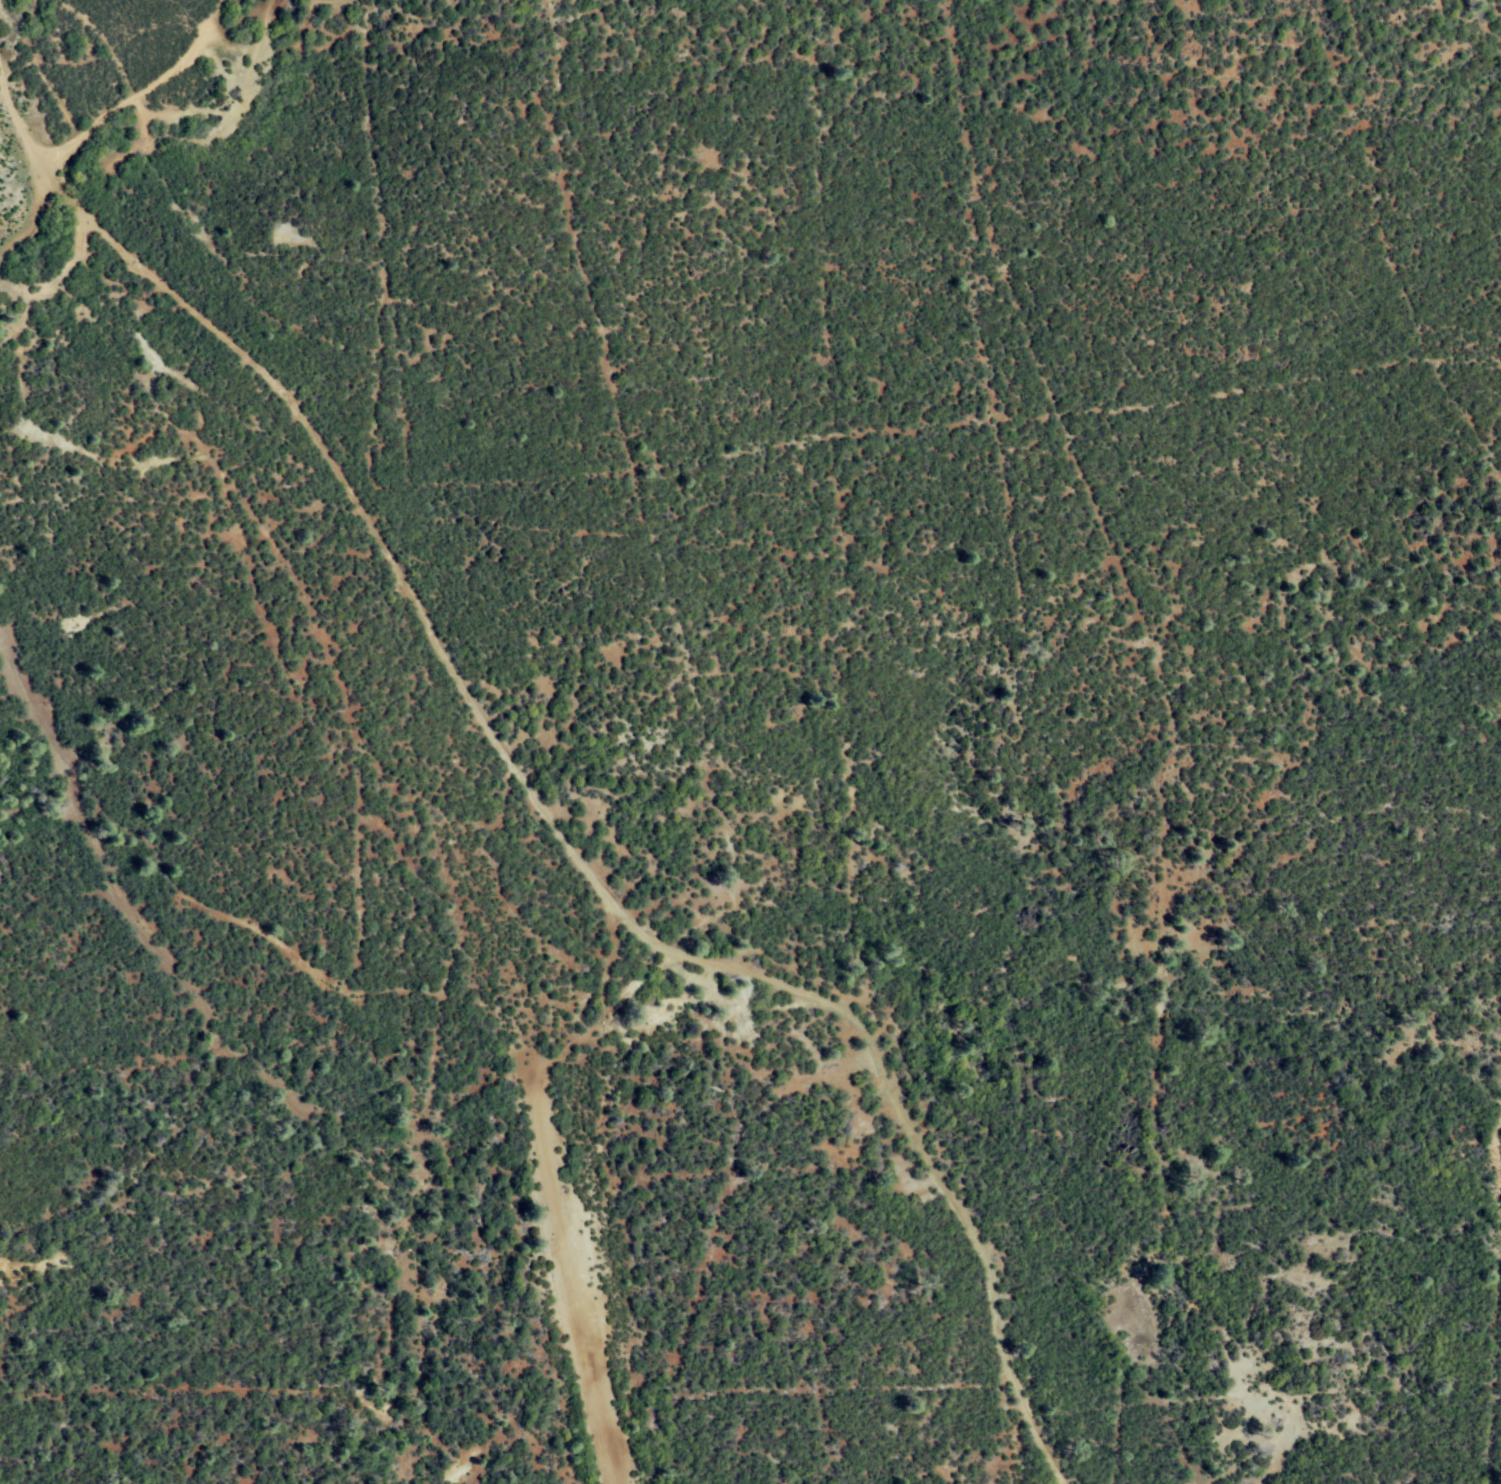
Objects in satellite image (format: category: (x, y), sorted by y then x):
road: (537, 813)
airport runway: (571, 1345)

